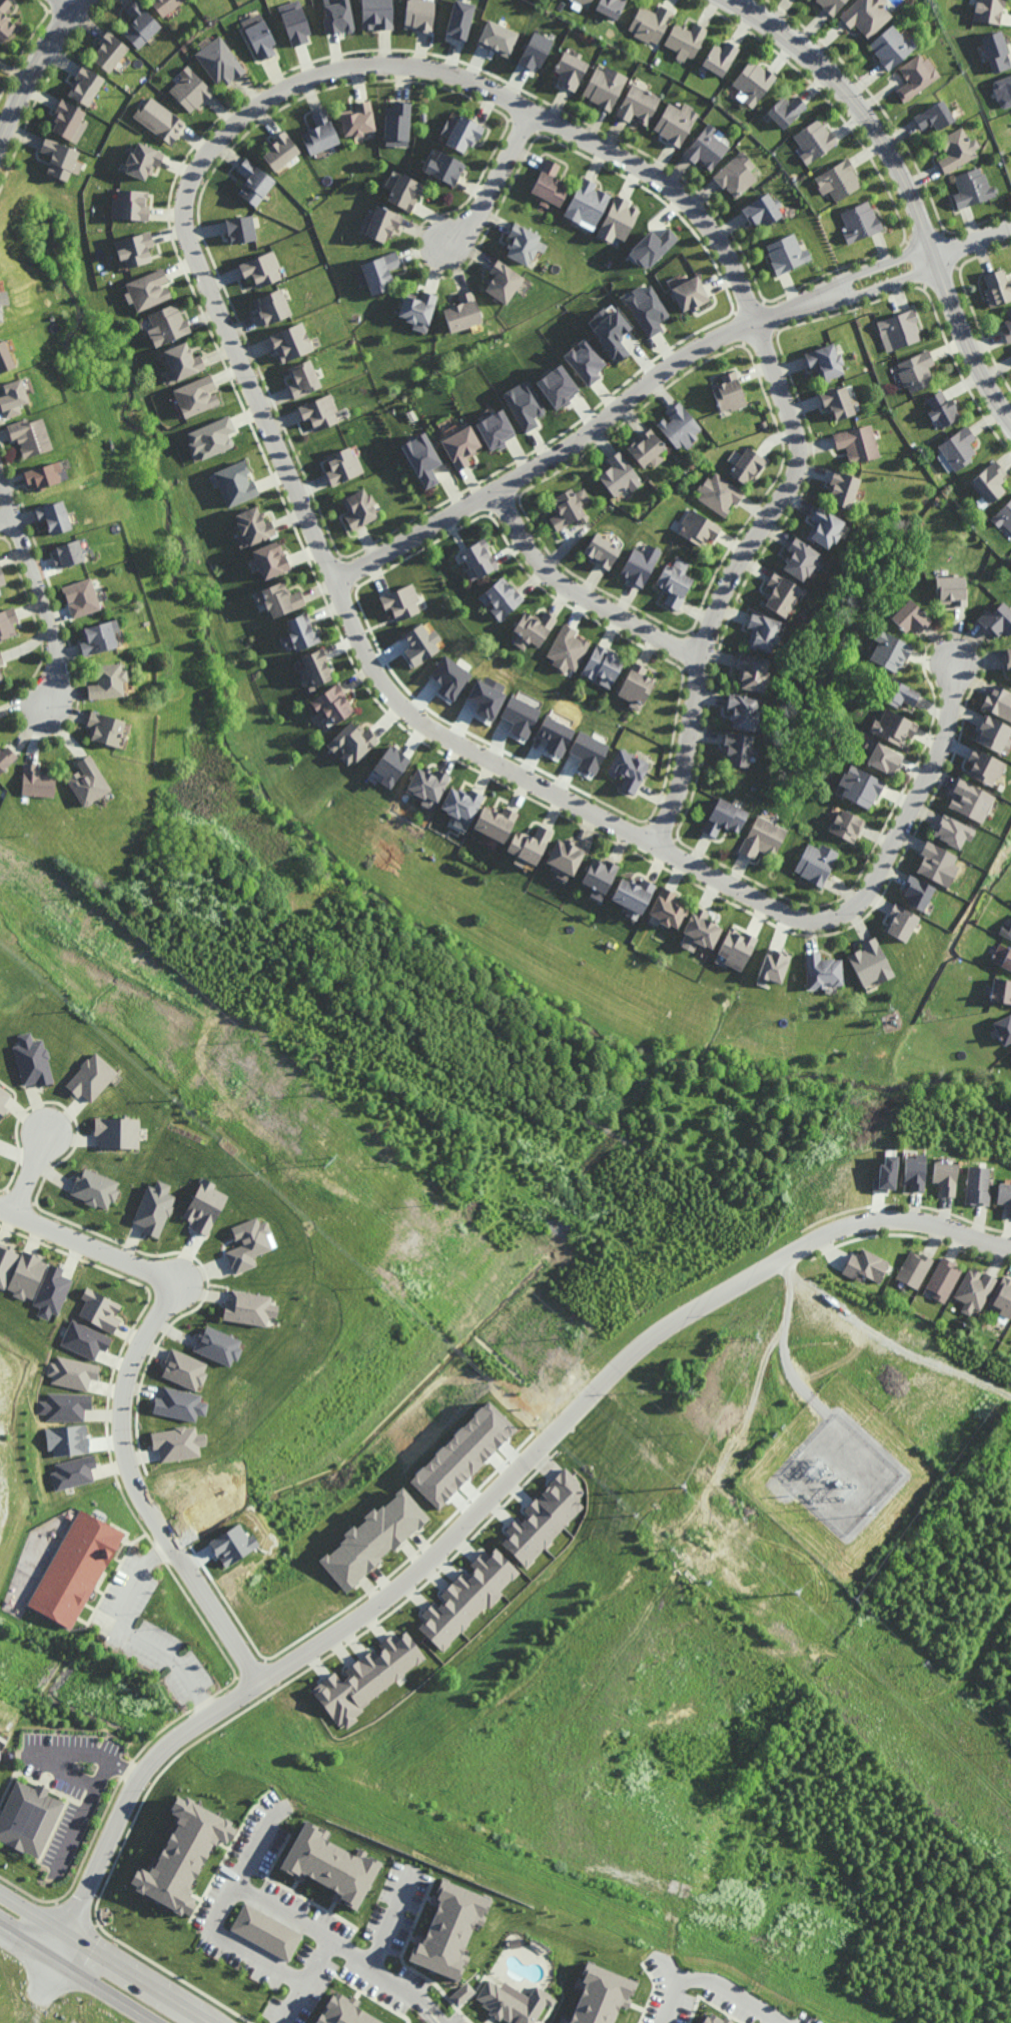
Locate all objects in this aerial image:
building: (578, 4)
road: (80, 5)
building: (164, 5)
building: (830, 5)
building: (608, 7)
building: (987, 10)
building: (375, 12)
building: (419, 15)
building: (337, 16)
building: (865, 16)
building: (460, 19)
building: (4, 20)
building: (295, 23)
building: (648, 23)
building: (139, 25)
building: (261, 37)
building: (497, 38)
building: (683, 40)
building: (889, 47)
building: (996, 47)
building: (108, 52)
building: (534, 52)
building: (719, 58)
building: (220, 59)
road: (354, 63)
building: (571, 68)
building: (914, 75)
road: (40, 80)
building: (753, 82)
building: (84, 86)
building: (603, 87)
building: (190, 90)
building: (1003, 91)
building: (636, 104)
building: (785, 111)
building: (397, 115)
building: (933, 117)
building: (159, 118)
building: (357, 120)
building: (64, 121)
building: (673, 124)
building: (320, 134)
building: (465, 135)
building: (813, 141)
building: (706, 147)
building: (956, 150)
building: (280, 151)
building: (59, 160)
building: (143, 160)
building: (446, 166)
building: (736, 174)
building: (838, 180)
building: (253, 183)
road: (494, 184)
road: (906, 184)
building: (546, 185)
building: (972, 188)
building: (406, 190)
building: (131, 203)
building: (583, 205)
building: (762, 211)
building: (617, 220)
building: (859, 223)
building: (382, 226)
building: (241, 229)
road: (973, 240)
building: (524, 242)
building: (655, 246)
building: (140, 247)
building: (786, 255)
road: (881, 264)
building: (261, 266)
building: (380, 275)
building: (507, 279)
road: (888, 284)
building: (149, 287)
building: (997, 288)
building: (687, 296)
building: (275, 306)
building: (417, 309)
building: (646, 309)
building: (0, 310)
building: (462, 313)
building: (0, 319)
building: (167, 323)
building: (900, 329)
building: (1007, 329)
building: (610, 332)
building: (290, 339)
building: (4, 356)
building: (184, 359)
building: (825, 360)
building: (584, 361)
building: (916, 370)
building: (305, 378)
building: (557, 387)
building: (729, 390)
building: (196, 396)
building: (12, 397)
building: (837, 400)
building: (524, 405)
building: (941, 407)
building: (322, 410)
building: (679, 424)
building: (495, 430)
road: (586, 435)
building: (31, 436)
building: (211, 438)
building: (857, 442)
building: (646, 446)
building: (461, 447)
building: (959, 448)
building: (421, 459)
building: (747, 464)
building: (343, 465)
building: (618, 472)
building: (43, 475)
building: (990, 481)
building: (235, 484)
building: (842, 487)
building: (719, 492)
building: (567, 505)
building: (359, 507)
building: (54, 516)
building: (1003, 516)
building: (260, 522)
road: (8, 523)
building: (698, 527)
building: (824, 527)
building: (602, 548)
building: (67, 553)
building: (480, 558)
building: (270, 559)
building: (806, 560)
building: (641, 563)
building: (2, 577)
building: (674, 582)
road: (39, 587)
building: (952, 587)
building: (781, 594)
road: (580, 595)
building: (81, 597)
building: (503, 598)
building: (281, 599)
building: (403, 599)
building: (910, 616)
building: (997, 619)
building: (8, 622)
building: (533, 628)
building: (300, 632)
building: (763, 632)
building: (98, 638)
building: (421, 644)
building: (567, 649)
building: (891, 651)
building: (1007, 658)
building: (1, 659)
building: (603, 665)
building: (315, 667)
building: (753, 671)
building: (1, 676)
building: (450, 678)
building: (108, 681)
building: (636, 686)
building: (898, 694)
building: (486, 699)
building: (998, 699)
building: (332, 703)
building: (743, 711)
building: (520, 716)
building: (894, 727)
building: (105, 728)
building: (997, 732)
building: (555, 736)
building: (351, 742)
building: (739, 749)
building: (588, 751)
building: (6, 757)
building: (885, 758)
building: (390, 766)
building: (626, 767)
building: (985, 767)
building: (38, 780)
building: (88, 781)
building: (429, 784)
building: (863, 786)
building: (971, 798)
building: (464, 801)
building: (726, 817)
building: (495, 822)
building: (849, 825)
building: (955, 829)
building: (764, 837)
building: (529, 845)
building: (569, 857)
building: (938, 860)
building: (817, 862)
building: (598, 878)
road: (871, 885)
building: (920, 892)
building: (634, 894)
building: (668, 909)
building: (901, 923)
building: (703, 927)
building: (1006, 930)
building: (736, 948)
building: (1003, 956)
building: (872, 962)
building: (774, 965)
building: (824, 967)
building: (1002, 992)
building: (1003, 1029)
building: (32, 1061)
building: (91, 1078)
building: (3, 1100)
building: (117, 1132)
power tower: (321, 1161)
building: (911, 1169)
road: (31, 1171)
building: (885, 1175)
building: (942, 1175)
building: (975, 1184)
building: (95, 1189)
building: (1003, 1195)
building: (205, 1206)
building: (154, 1209)
building: (248, 1244)
building: (6, 1264)
building: (864, 1264)
building: (912, 1268)
building: (27, 1276)
building: (943, 1278)
building: (973, 1289)
building: (51, 1292)
building: (1002, 1296)
building: (249, 1308)
building: (100, 1310)
road: (787, 1327)
power tower: (752, 1338)
building: (85, 1340)
road: (895, 1342)
building: (218, 1346)
building: (184, 1369)
building: (73, 1373)
road: (121, 1402)
building: (179, 1404)
building: (65, 1406)
building: (67, 1440)
building: (177, 1443)
building: (462, 1454)
building: (73, 1472)
power substation: (843, 1473)
power tower: (683, 1487)
road: (478, 1509)
building: (545, 1518)
building: (374, 1538)
road: (696, 1544)
building: (232, 1545)
building: (75, 1571)
power tower: (782, 1594)
building: (468, 1598)
road: (128, 1636)
road: (857, 1663)
building: (369, 1678)
building: (28, 1818)
road: (257, 1845)
building: (183, 1855)
building: (330, 1865)
road: (529, 1886)
road: (245, 1887)
road: (389, 1923)
building: (450, 1929)
building: (267, 1932)
road: (106, 1956)
road: (79, 1974)
road: (714, 1977)
building: (462, 1994)
building: (600, 1996)
road: (290, 2000)
building: (513, 2002)
building: (344, 2011)
road: (435, 2016)
building: (712, 2019)

